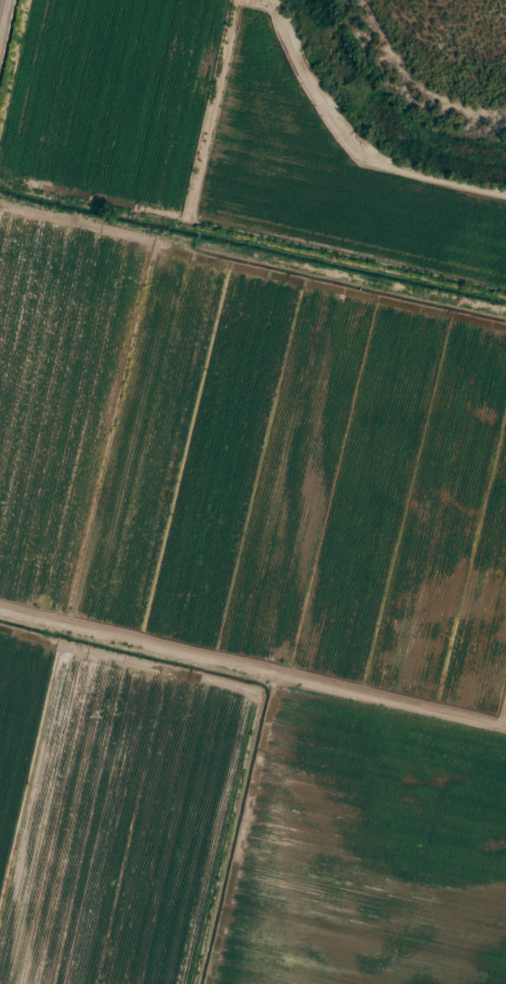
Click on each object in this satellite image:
road: (253, 679)

